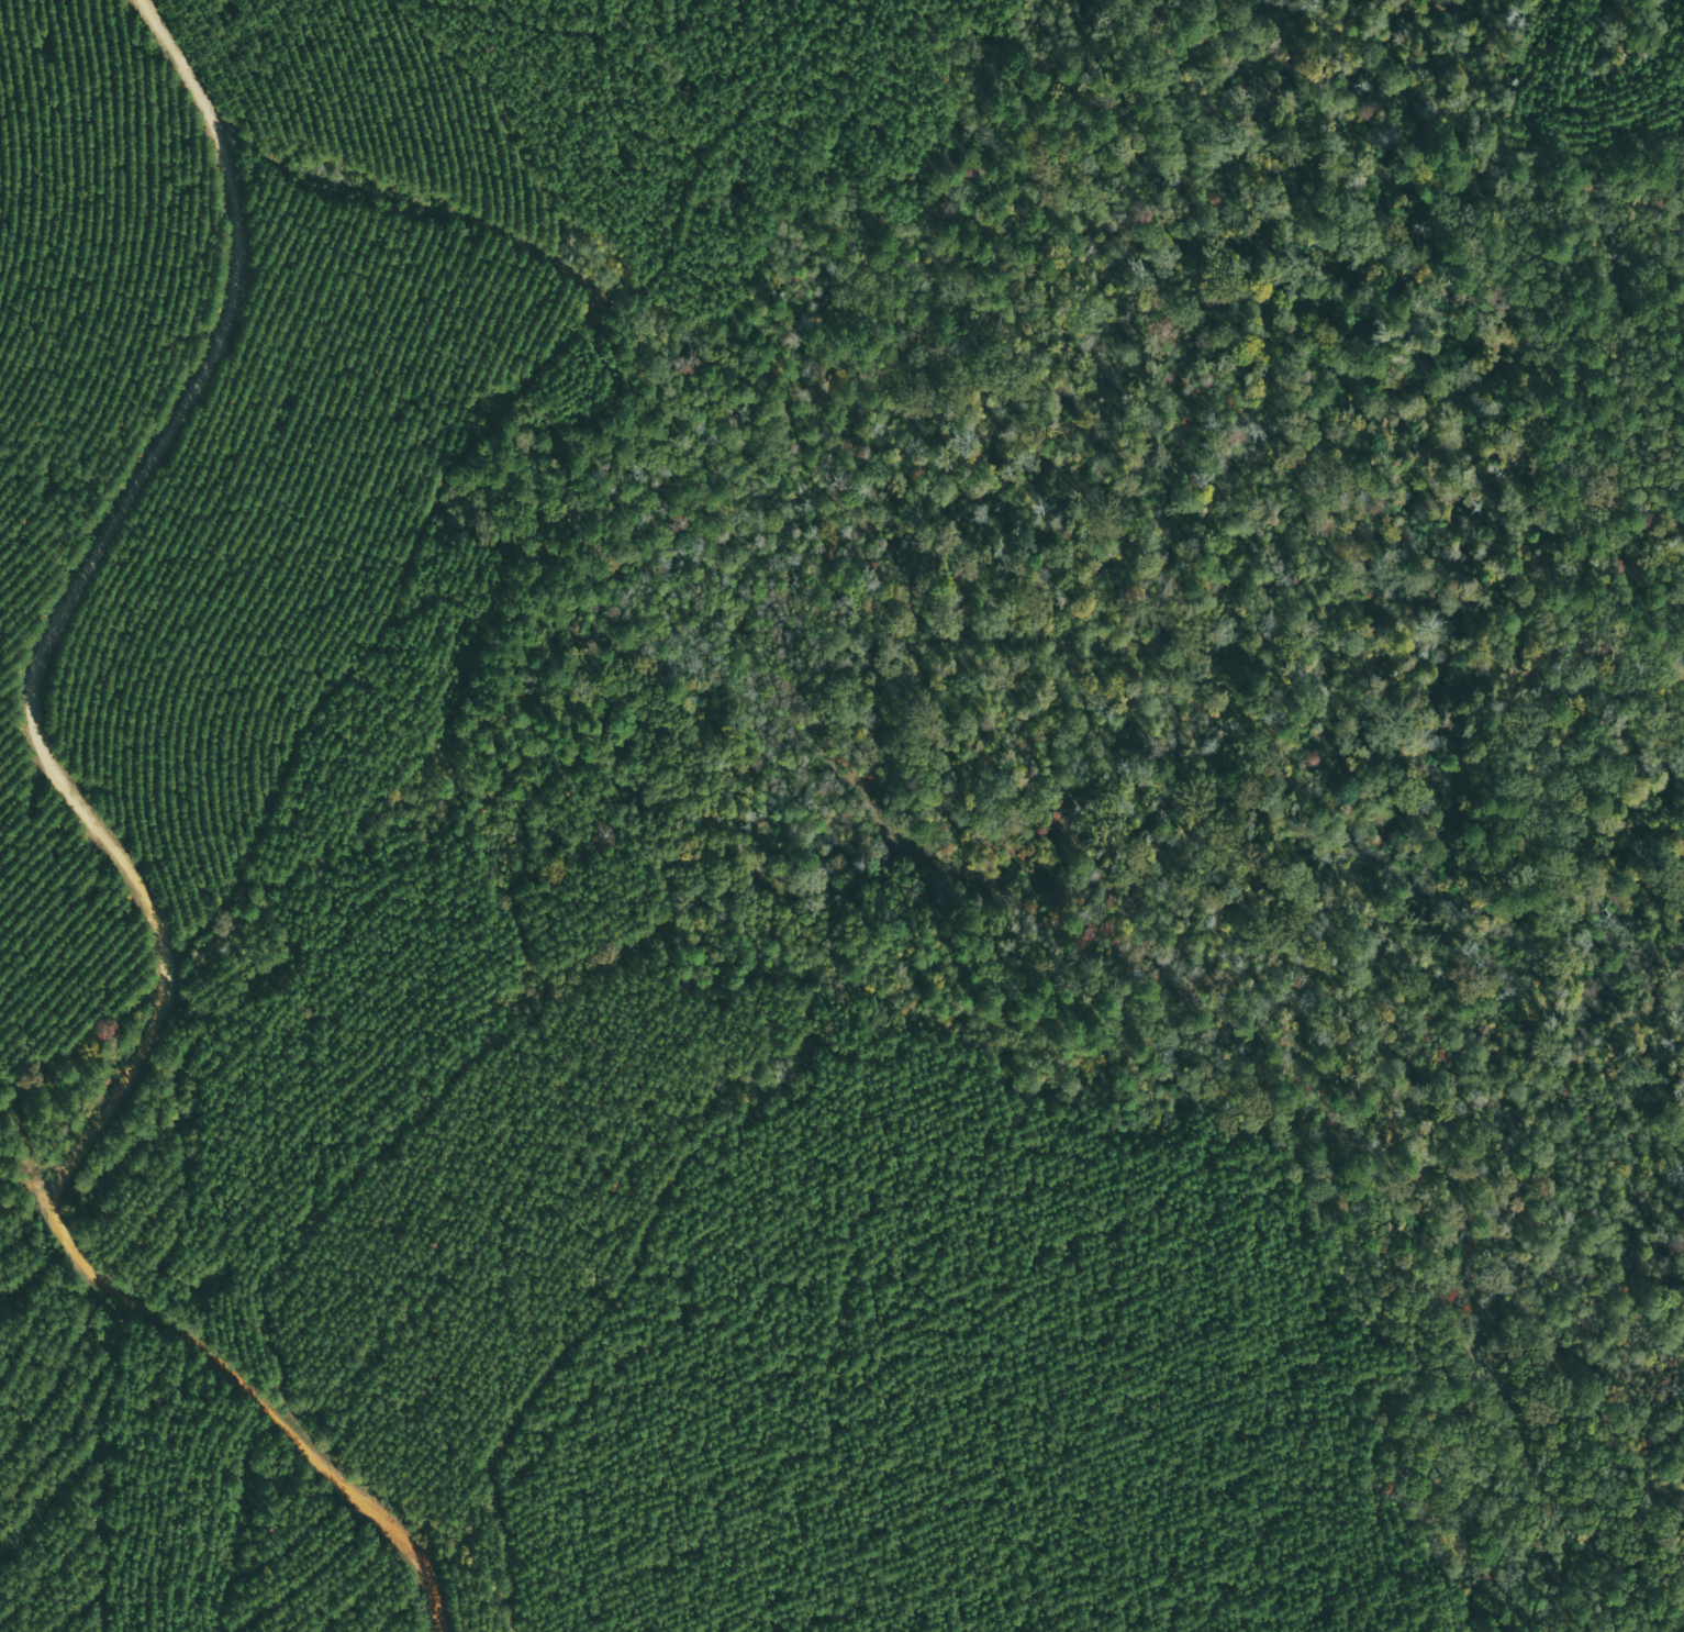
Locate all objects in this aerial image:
road: (264, 1376)

